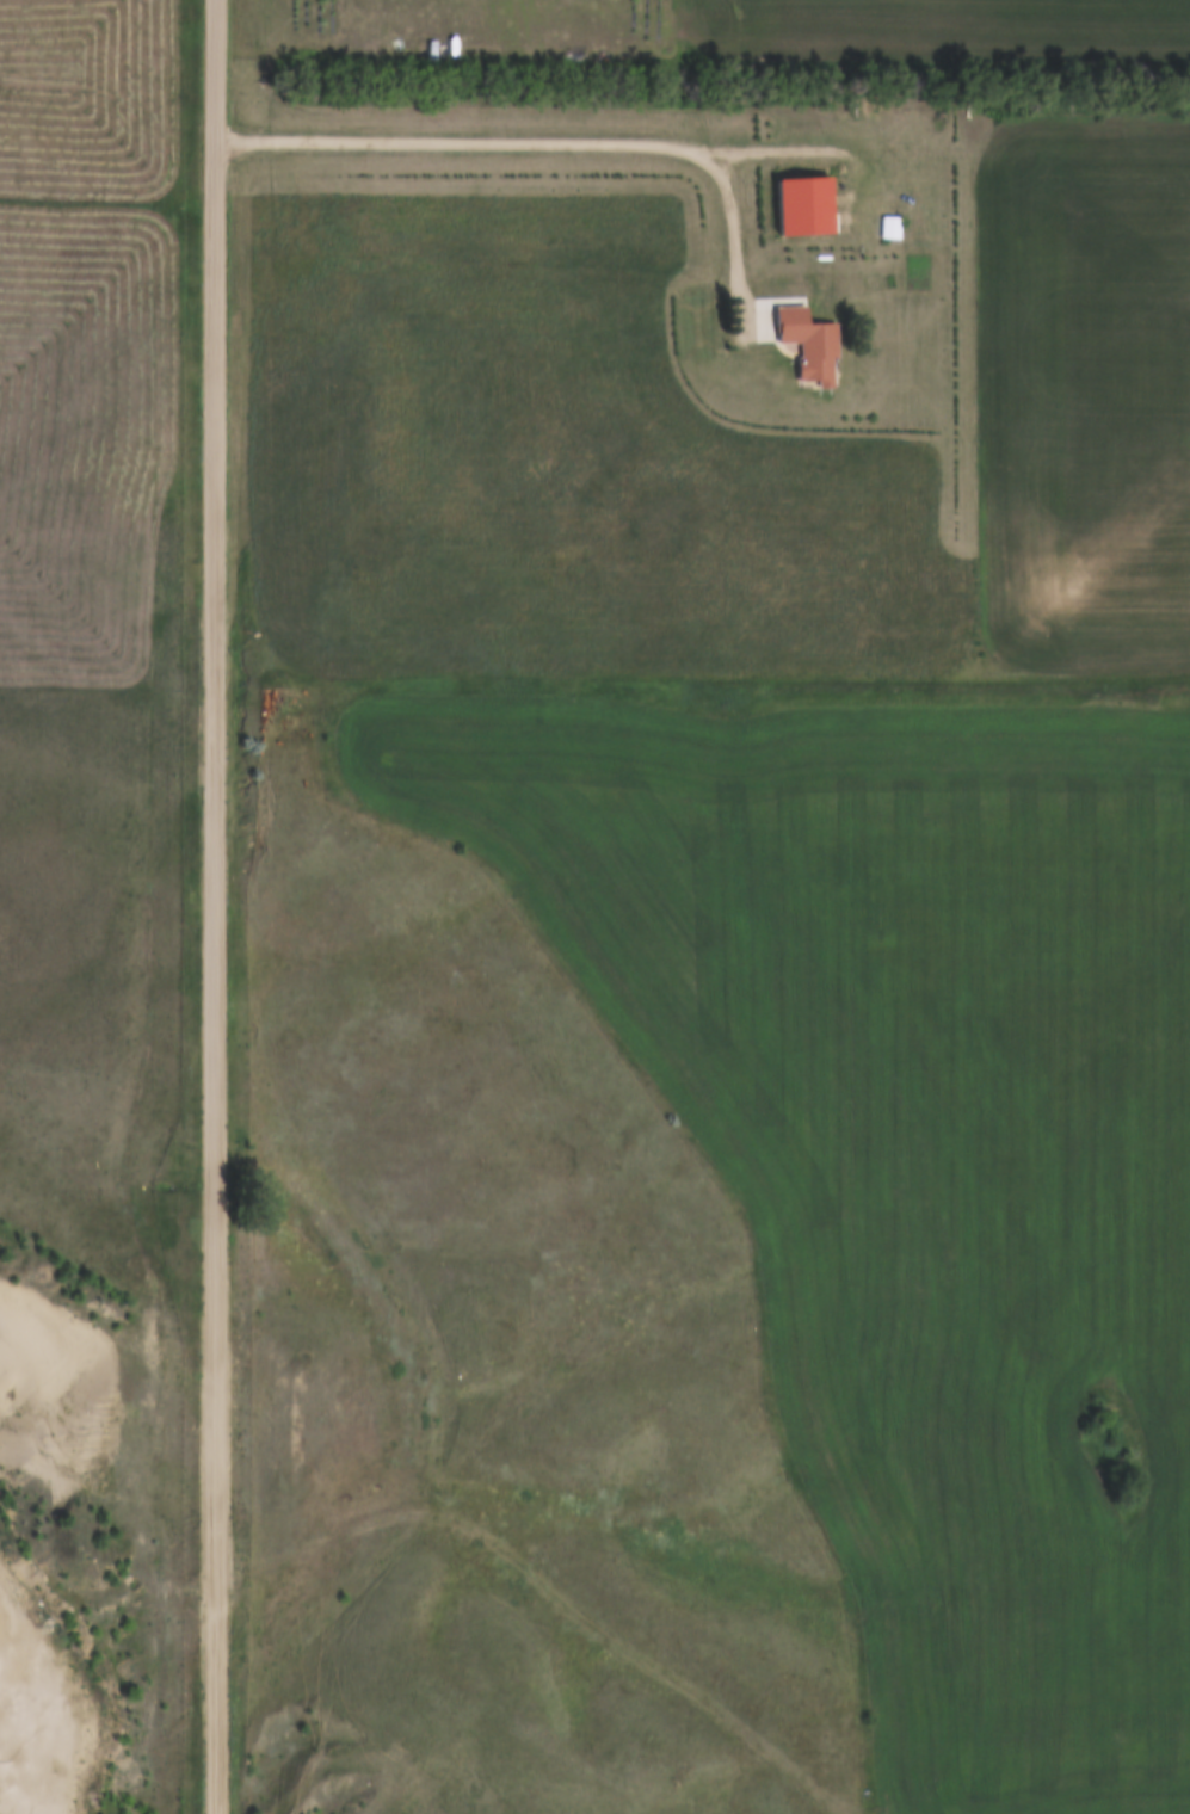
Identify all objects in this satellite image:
road: (543, 122)
building: (809, 343)
road: (214, 907)
road: (30, 1751)

